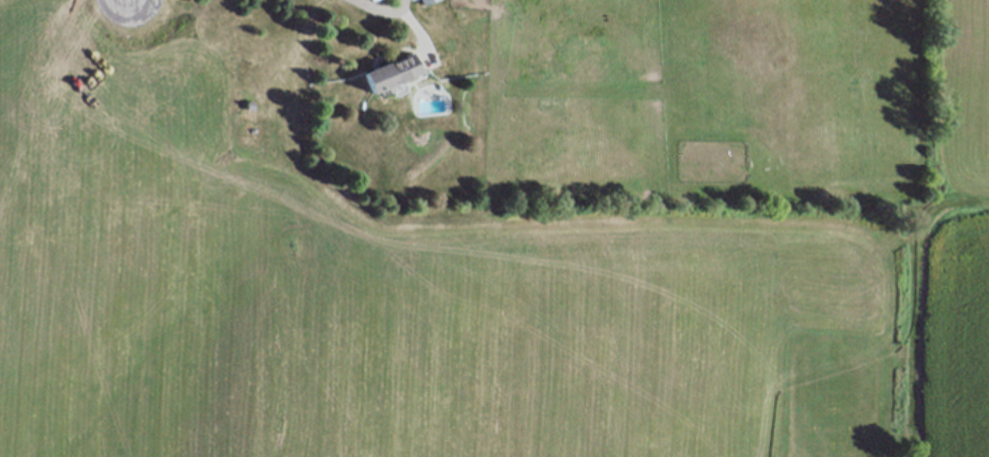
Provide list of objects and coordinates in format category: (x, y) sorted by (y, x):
building: (411, 0)
building: (427, 2)
road: (373, 8)
building: (389, 70)

